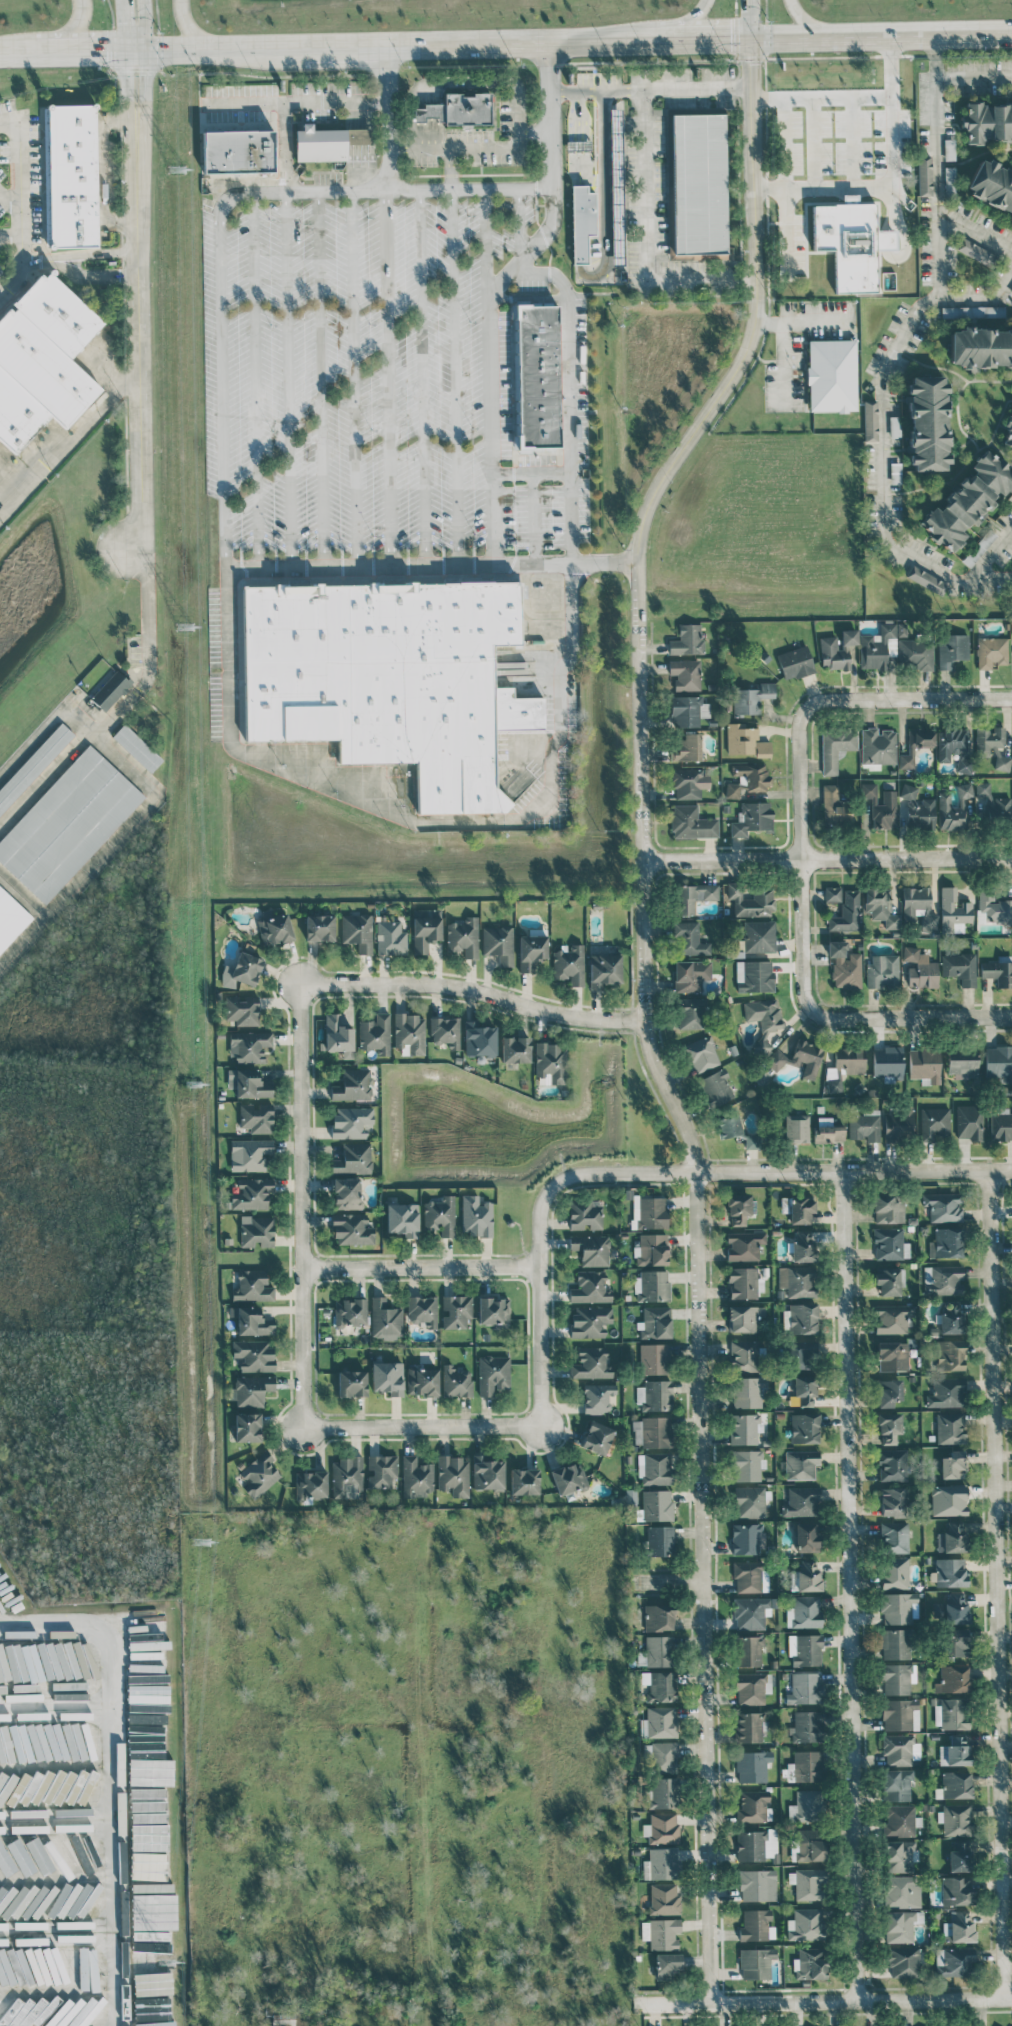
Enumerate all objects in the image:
road: (751, 19)
traffic signals: (124, 20)
road: (687, 21)
road: (806, 21)
road: (124, 25)
road: (144, 25)
road: (188, 26)
road: (75, 27)
road: (882, 35)
traffic signals: (752, 38)
road: (709, 39)
road: (653, 40)
road: (350, 47)
traffic signals: (107, 50)
road: (17, 51)
road: (47, 51)
traffic signals: (145, 71)
road: (127, 84)
road: (145, 84)
road: (595, 90)
road: (755, 90)
road: (289, 102)
road: (244, 103)
building: (466, 108)
road: (892, 110)
building: (427, 112)
road: (551, 113)
road: (384, 119)
road: (578, 120)
building: (987, 122)
road: (785, 128)
road: (604, 133)
building: (326, 142)
building: (578, 145)
road: (486, 146)
building: (949, 149)
building: (238, 151)
power tower: (177, 169)
road: (102, 171)
building: (924, 175)
road: (580, 176)
building: (616, 178)
building: (949, 179)
building: (70, 181)
building: (696, 183)
road: (643, 184)
building: (991, 186)
road: (840, 187)
road: (469, 188)
road: (771, 188)
parking lot: (4, 197)
road: (11, 197)
road: (21, 207)
building: (582, 221)
road: (974, 229)
road: (545, 234)
building: (851, 242)
road: (12, 249)
road: (104, 252)
building: (976, 252)
road: (48, 261)
road: (103, 274)
building: (1011, 293)
road: (1, 294)
road: (983, 297)
building: (971, 311)
road: (903, 336)
building: (981, 347)
road: (783, 349)
building: (43, 362)
building: (831, 375)
road: (456, 376)
building: (538, 376)
road: (423, 377)
road: (320, 378)
road: (354, 378)
road: (387, 378)
road: (255, 379)
road: (288, 379)
parking lot: (396, 381)
road: (570, 393)
road: (490, 413)
building: (870, 419)
building: (927, 423)
building: (895, 426)
building: (1008, 431)
road: (71, 436)
road: (143, 499)
building: (968, 500)
road: (989, 552)
road: (432, 564)
building: (926, 580)
road: (228, 603)
power tower: (186, 627)
building: (901, 629)
building: (687, 640)
road: (570, 644)
building: (876, 646)
building: (836, 649)
building: (951, 649)
building: (991, 652)
building: (915, 654)
building: (795, 662)
building: (684, 675)
building: (392, 680)
building: (110, 690)
building: (751, 698)
road: (831, 698)
building: (688, 710)
road: (44, 726)
building: (989, 739)
building: (746, 740)
building: (950, 743)
building: (916, 744)
building: (878, 746)
building: (136, 747)
building: (836, 747)
building: (687, 748)
building: (46, 750)
building: (1002, 762)
building: (964, 766)
building: (748, 778)
building: (688, 783)
building: (992, 804)
building: (880, 806)
building: (833, 807)
building: (917, 808)
building: (955, 809)
building: (752, 818)
building: (66, 823)
building: (691, 823)
road: (112, 844)
road: (828, 858)
building: (832, 894)
road: (22, 895)
building: (695, 896)
building: (750, 900)
building: (880, 907)
building: (918, 908)
building: (994, 908)
building: (953, 910)
building: (846, 912)
building: (8, 919)
building: (319, 927)
building: (274, 929)
building: (358, 931)
building: (425, 931)
building: (463, 936)
building: (759, 936)
building: (390, 938)
building: (689, 939)
building: (498, 943)
building: (531, 951)
building: (569, 964)
building: (844, 965)
building: (920, 968)
building: (960, 968)
building: (604, 969)
building: (242, 970)
building: (883, 971)
building: (998, 972)
building: (691, 975)
building: (754, 976)
road: (472, 990)
building: (241, 1008)
building: (691, 1013)
road: (835, 1016)
building: (445, 1031)
building: (409, 1033)
building: (375, 1034)
building: (338, 1036)
building: (479, 1040)
building: (248, 1046)
building: (761, 1046)
building: (514, 1049)
building: (701, 1054)
building: (800, 1058)
road: (654, 1060)
building: (846, 1062)
building: (962, 1063)
building: (999, 1063)
building: (888, 1065)
building: (924, 1065)
building: (248, 1083)
power tower: (195, 1084)
building: (352, 1085)
building: (834, 1085)
building: (716, 1087)
building: (256, 1117)
building: (351, 1122)
building: (969, 1122)
building: (934, 1123)
building: (898, 1124)
building: (1000, 1124)
building: (727, 1126)
building: (865, 1126)
building: (796, 1128)
building: (827, 1130)
building: (752, 1141)
building: (251, 1153)
building: (352, 1159)
road: (854, 1171)
building: (251, 1193)
building: (346, 1193)
road: (300, 1206)
building: (943, 1206)
building: (738, 1208)
building: (801, 1209)
building: (887, 1209)
building: (649, 1212)
building: (585, 1214)
building: (440, 1215)
building: (476, 1216)
building: (402, 1219)
building: (351, 1229)
building: (256, 1231)
road: (538, 1231)
building: (946, 1242)
building: (890, 1243)
building: (744, 1245)
building: (803, 1246)
building: (590, 1249)
building: (652, 1249)
road: (419, 1268)
building: (943, 1280)
building: (797, 1281)
building: (887, 1281)
building: (742, 1282)
building: (250, 1285)
building: (652, 1285)
building: (590, 1287)
building: (422, 1310)
building: (456, 1311)
building: (351, 1312)
building: (492, 1312)
building: (744, 1318)
building: (803, 1318)
building: (893, 1318)
building: (385, 1319)
building: (951, 1319)
building: (590, 1321)
building: (252, 1322)
building: (655, 1323)
building: (804, 1354)
building: (253, 1355)
building: (744, 1355)
building: (949, 1355)
building: (892, 1356)
building: (654, 1358)
building: (591, 1363)
building: (493, 1374)
building: (387, 1377)
building: (421, 1380)
building: (456, 1381)
building: (352, 1383)
building: (805, 1387)
building: (251, 1390)
building: (748, 1391)
building: (946, 1392)
building: (889, 1393)
building: (654, 1395)
building: (597, 1397)
building: (247, 1427)
road: (422, 1427)
building: (888, 1427)
building: (950, 1427)
building: (744, 1428)
building: (804, 1428)
building: (656, 1432)
building: (596, 1437)
building: (800, 1464)
building: (746, 1465)
building: (892, 1465)
building: (952, 1465)
building: (655, 1469)
building: (381, 1470)
building: (487, 1473)
building: (258, 1474)
building: (453, 1475)
building: (346, 1476)
building: (416, 1477)
building: (568, 1479)
building: (524, 1481)
building: (310, 1484)
building: (949, 1499)
building: (749, 1501)
building: (801, 1501)
building: (891, 1501)
building: (656, 1505)
building: (895, 1537)
building: (747, 1538)
building: (806, 1538)
building: (952, 1538)
building: (660, 1540)
power tower: (203, 1542)
building: (895, 1572)
building: (950, 1572)
building: (751, 1577)
building: (806, 1577)
road: (666, 1581)
road: (998, 1584)
road: (849, 1586)
building: (898, 1607)
building: (951, 1610)
building: (752, 1612)
building: (804, 1612)
building: (658, 1617)
building: (955, 1642)
building: (896, 1643)
building: (805, 1649)
building: (142, 1650)
building: (750, 1650)
building: (658, 1651)
building: (23, 1662)
building: (147, 1662)
building: (3, 1667)
building: (148, 1676)
building: (897, 1678)
building: (954, 1678)
building: (660, 1685)
building: (752, 1687)
building: (804, 1688)
building: (29, 1696)
building: (1, 1698)
building: (954, 1713)
building: (900, 1714)
building: (74, 1715)
building: (658, 1722)
building: (807, 1726)
building: (749, 1727)
building: (149, 1734)
building: (70, 1743)
building: (900, 1749)
building: (954, 1751)
building: (664, 1757)
building: (752, 1765)
building: (808, 1765)
building: (150, 1771)
road: (114, 1784)
building: (898, 1784)
building: (956, 1784)
building: (6, 1785)
building: (59, 1786)
building: (30, 1787)
building: (663, 1792)
building: (755, 1806)
building: (807, 1806)
building: (148, 1807)
building: (73, 1811)
building: (15, 1813)
building: (955, 1819)
building: (901, 1820)
building: (661, 1828)
building: (758, 1844)
building: (810, 1845)
building: (900, 1855)
building: (39, 1856)
building: (21, 1857)
building: (959, 1857)
building: (148, 1861)
building: (6, 1862)
building: (662, 1863)
building: (809, 1883)
building: (756, 1884)
building: (151, 1887)
building: (957, 1890)
building: (901, 1891)
building: (6, 1894)
building: (664, 1898)
building: (20, 1899)
building: (153, 1911)
building: (806, 1924)
building: (756, 1925)
building: (901, 1925)
building: (960, 1926)
road: (59, 1929)
building: (660, 1933)
building: (25, 1940)
building: (151, 1941)
building: (953, 1961)
power tower: (169, 1962)
building: (756, 1962)
building: (904, 1962)
building: (810, 1963)
building: (666, 1964)
building: (51, 1966)
building: (74, 1966)
building: (41, 1967)
building: (63, 1967)
building: (8, 1968)
building: (26, 1968)
building: (87, 1969)
building: (152, 1983)
road: (825, 2001)
building: (27, 2012)
building: (281, 2015)
building: (155, 2023)

